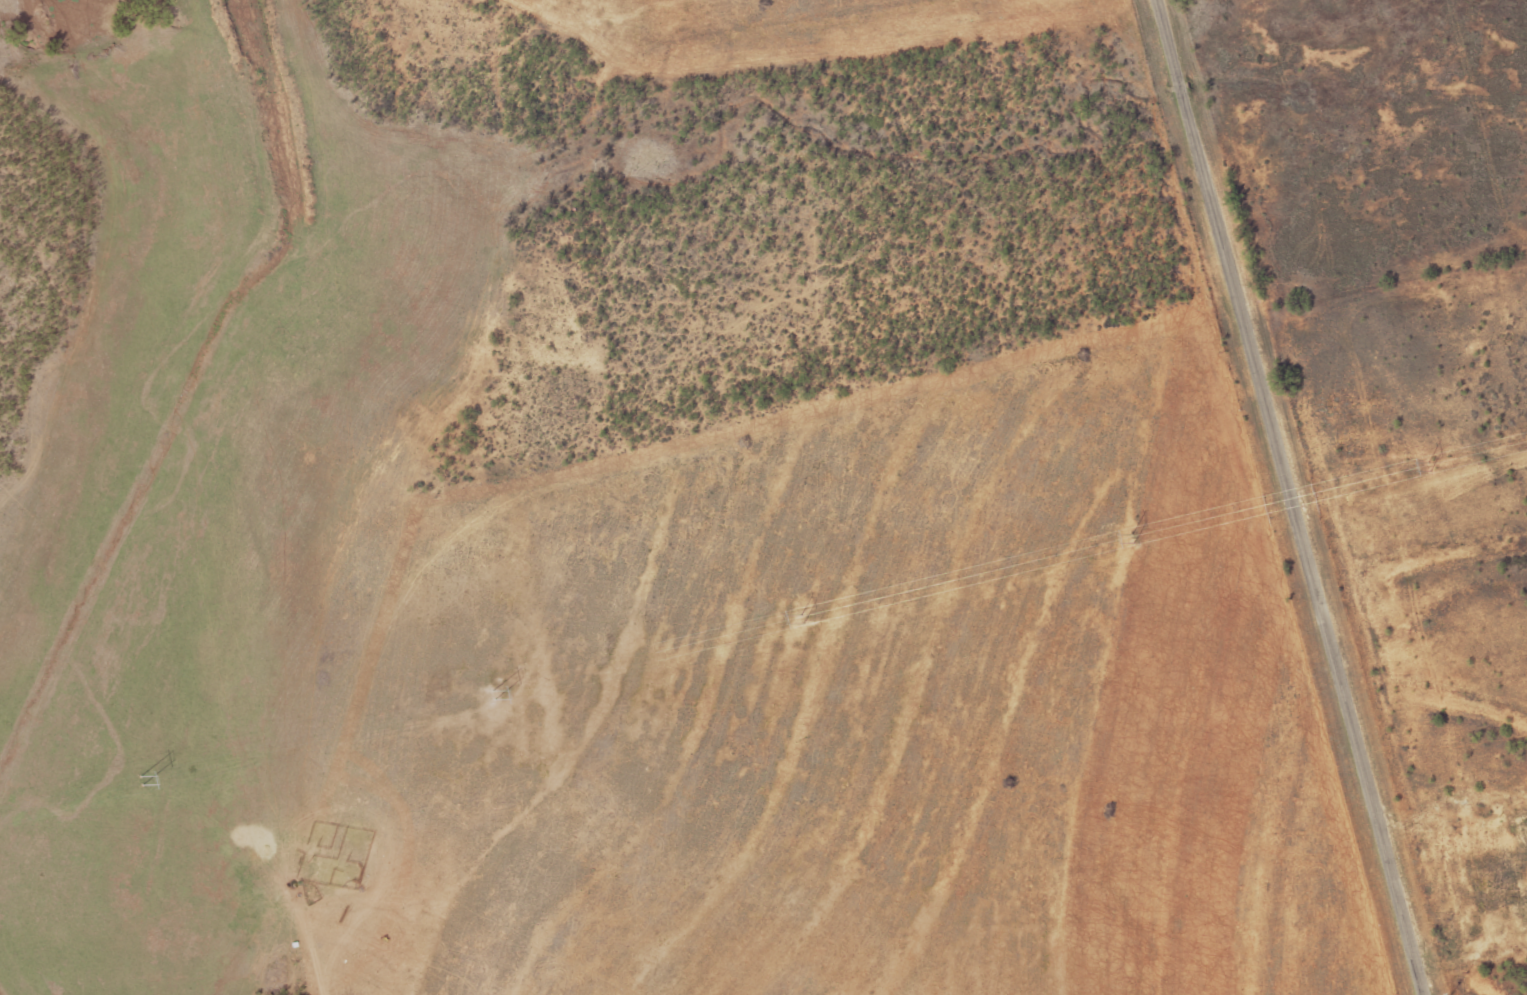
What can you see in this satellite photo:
power tower: (1385, 477)
road: (1288, 497)
power tower: (1138, 537)
power tower: (801, 620)
power tower: (497, 691)
power tower: (145, 779)

